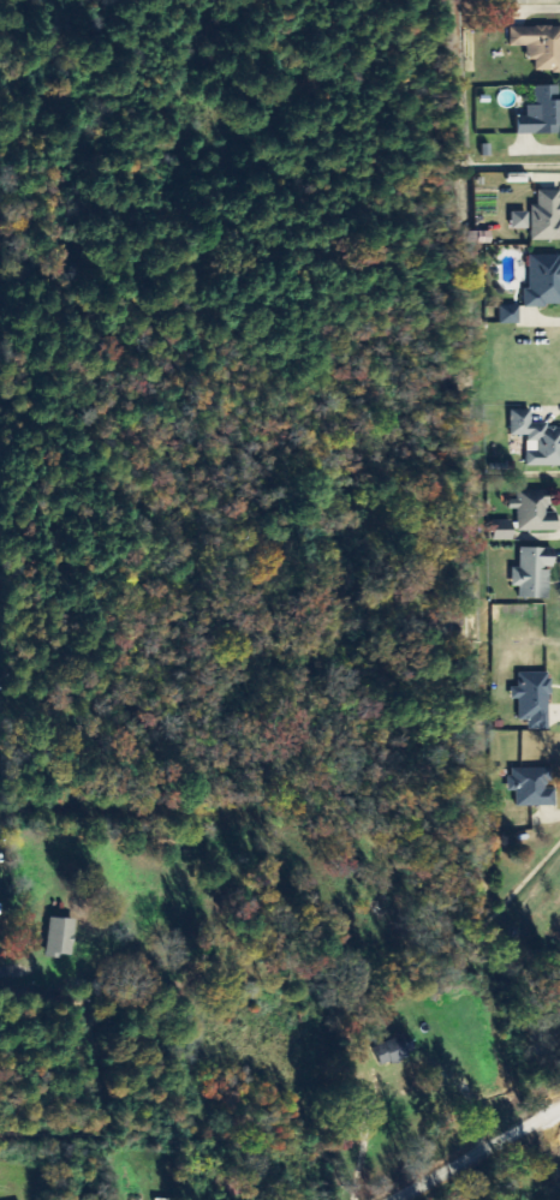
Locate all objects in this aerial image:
building: (540, 46)
building: (542, 113)
building: (546, 217)
building: (520, 221)
building: (543, 282)
building: (510, 314)
building: (537, 440)
building: (534, 513)
building: (534, 573)
building: (534, 700)
building: (532, 788)
building: (61, 938)
road: (0, 971)
building: (394, 1050)
road: (476, 1152)

